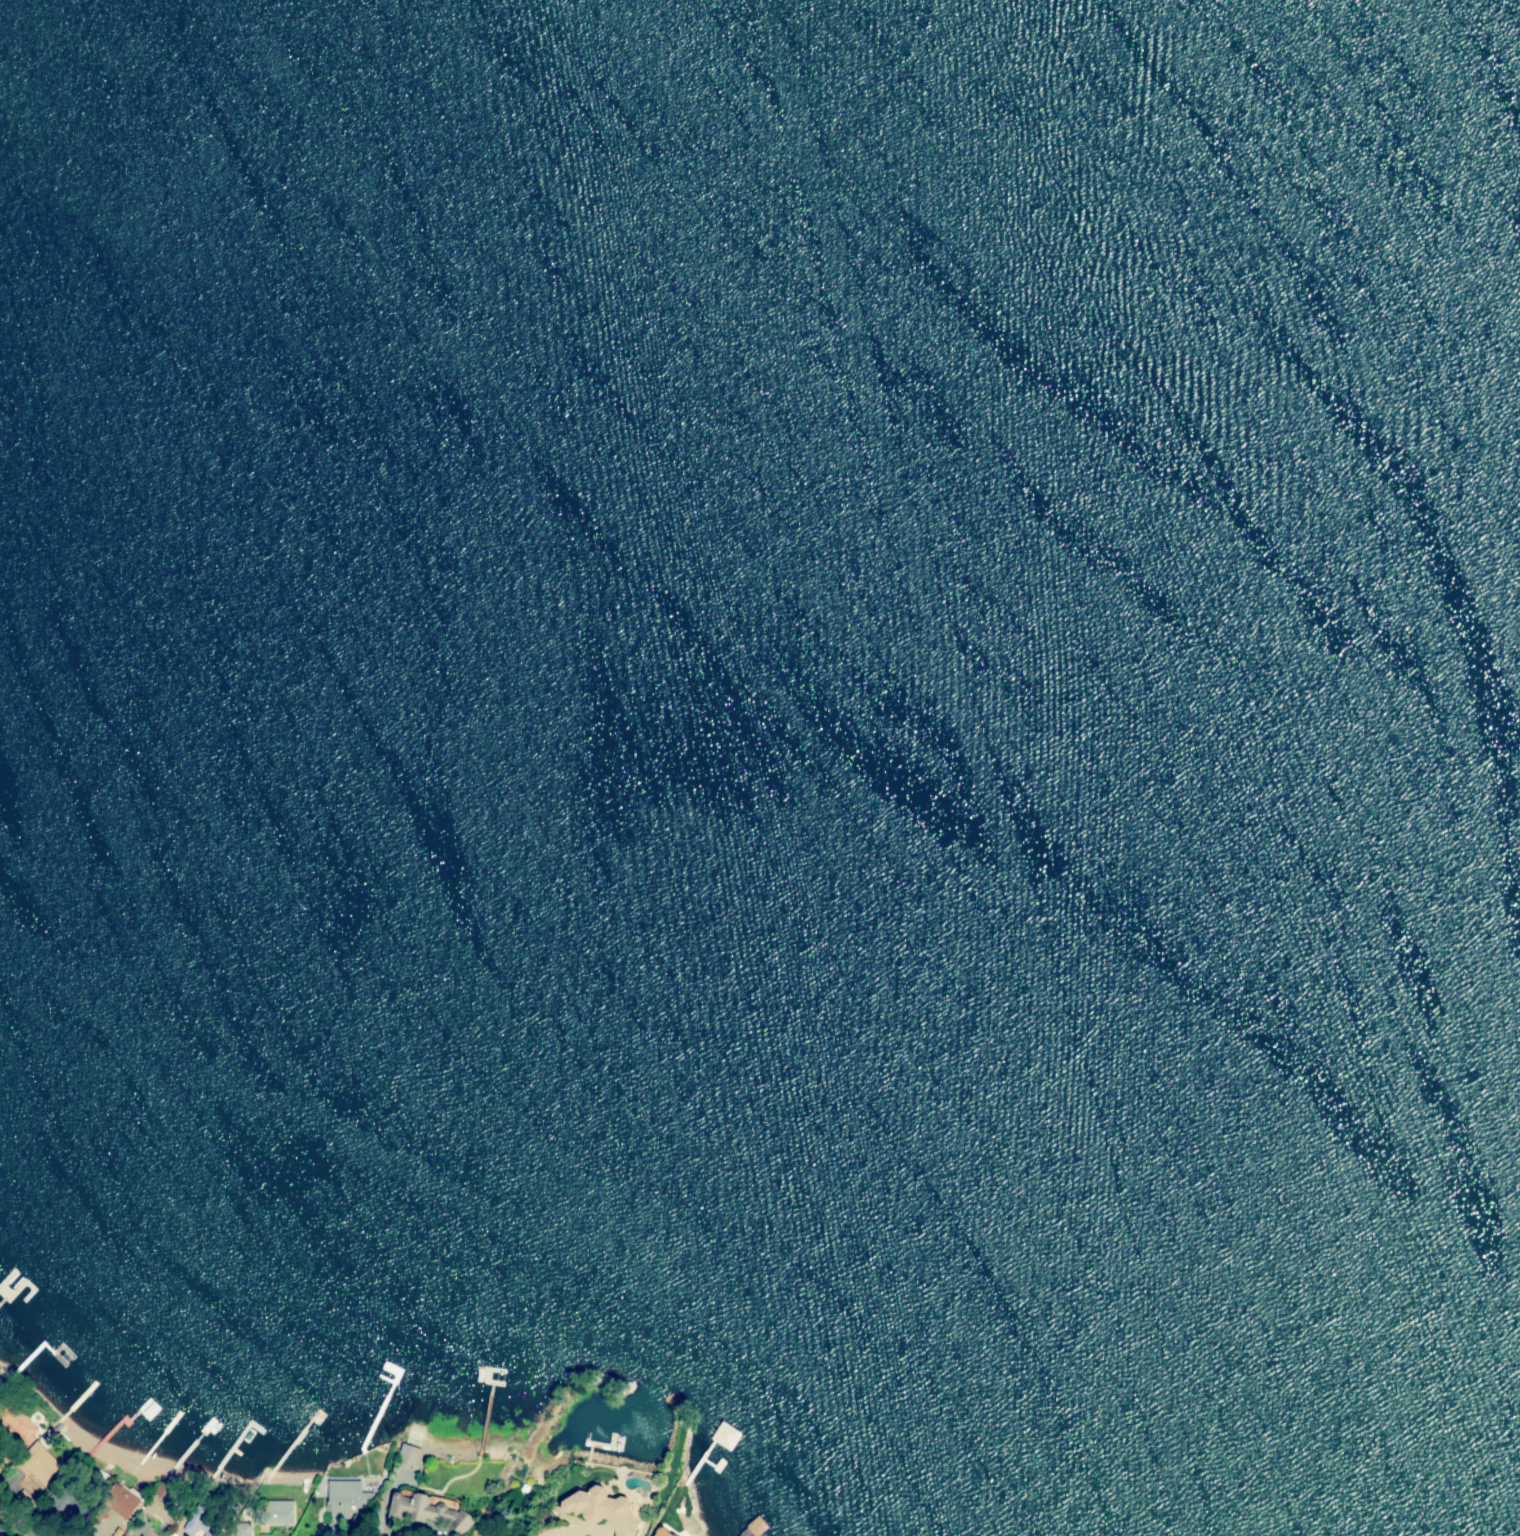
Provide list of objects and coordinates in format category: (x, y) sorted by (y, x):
building: (725, 1437)
building: (406, 1456)
building: (118, 1501)
building: (598, 1510)
building: (276, 1513)
building: (431, 1513)
road: (413, 1515)
building: (193, 1527)
building: (240, 1529)
road: (7, 1531)
building: (657, 1533)

